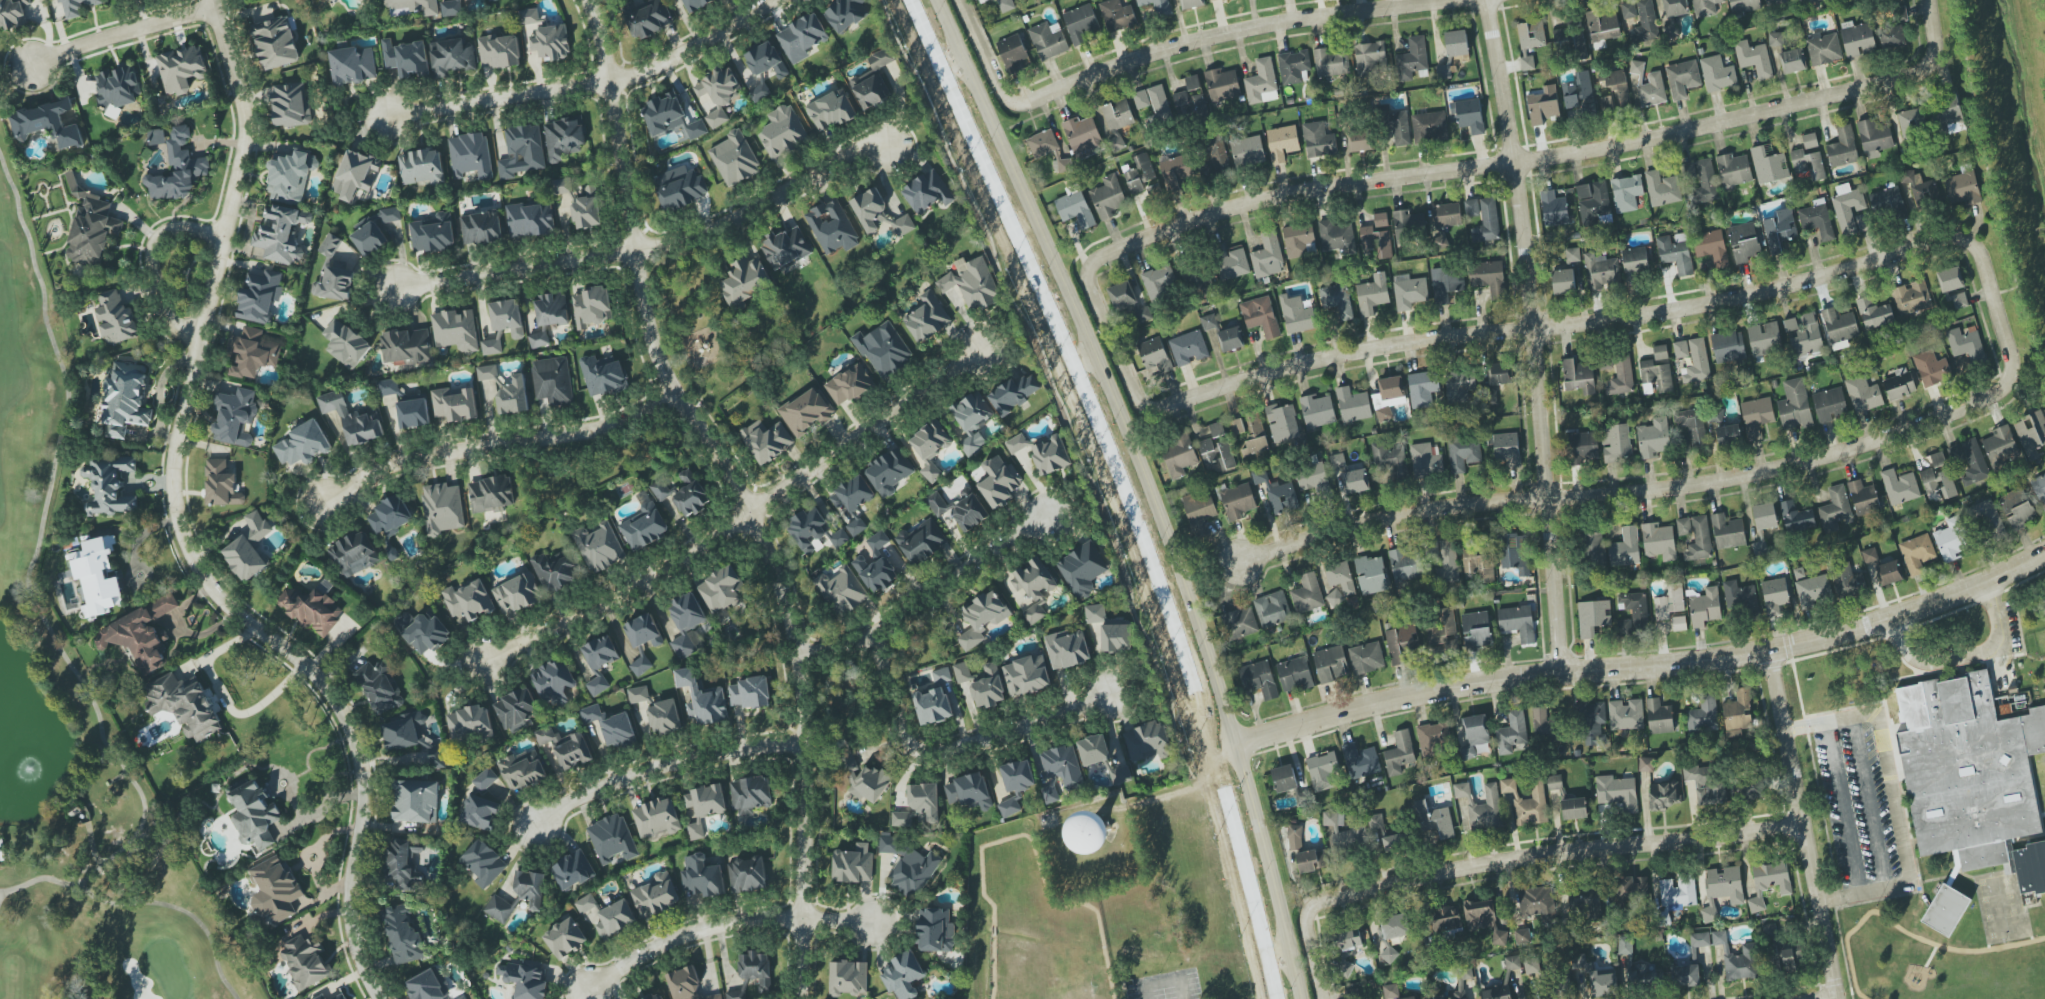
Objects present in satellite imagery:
building: (328, 0)
building: (492, 0)
building: (1211, 0)
building: (1807, 0)
building: (1774, 1)
building: (696, 4)
building: (1191, 4)
building: (414, 5)
building: (1006, 5)
building: (1157, 6)
building: (1744, 6)
building: (1675, 7)
building: (1705, 7)
building: (74, 8)
building: (451, 8)
building: (1628, 10)
building: (845, 14)
road: (964, 15)
building: (1117, 15)
building: (529, 16)
building: (649, 19)
building: (1645, 22)
building: (1080, 24)
building: (1603, 25)
road: (1959, 30)
road: (116, 31)
building: (1531, 34)
building: (1560, 35)
building: (1892, 37)
building: (801, 38)
building: (1776, 39)
building: (1048, 40)
building: (1858, 40)
building: (276, 42)
building: (551, 43)
building: (1456, 43)
road: (1183, 44)
building: (1579, 45)
building: (1824, 49)
building: (499, 51)
building: (1013, 53)
building: (451, 57)
building: (1369, 57)
building: (406, 58)
building: (1754, 58)
building: (1411, 59)
building: (766, 60)
building: (1793, 61)
building: (1330, 62)
building: (1527, 62)
building: (353, 65)
building: (1293, 66)
building: (1636, 67)
building: (181, 69)
building: (1445, 71)
building: (1717, 74)
building: (1683, 78)
building: (873, 81)
building: (1192, 82)
building: (1261, 83)
road: (589, 84)
building: (1222, 85)
building: (1617, 86)
building: (117, 87)
building: (1652, 90)
building: (759, 92)
building: (718, 93)
building: (1579, 94)
building: (1141, 99)
building: (1190, 103)
building: (290, 104)
building: (1606, 104)
building: (1543, 105)
building: (830, 111)
building: (664, 114)
building: (1468, 115)
building: (1117, 120)
building: (47, 123)
building: (1429, 126)
building: (1399, 128)
building: (696, 130)
building: (783, 132)
building: (156, 137)
building: (1083, 137)
building: (1874, 137)
building: (563, 138)
road: (1982, 138)
building: (1318, 140)
building: (1360, 140)
building: (1042, 143)
building: (1282, 143)
building: (1810, 143)
building: (1843, 148)
building: (522, 151)
building: (1247, 151)
building: (1218, 154)
building: (470, 155)
building: (735, 159)
building: (1808, 164)
road: (1503, 165)
building: (1768, 165)
building: (422, 166)
building: (178, 169)
building: (1733, 170)
building: (1176, 172)
building: (355, 174)
building: (291, 177)
building: (1142, 177)
building: (1705, 182)
building: (562, 186)
building: (679, 188)
building: (1963, 188)
building: (1662, 189)
building: (1925, 189)
building: (927, 192)
building: (1626, 193)
building: (1108, 196)
building: (1593, 202)
building: (1887, 203)
building: (1471, 208)
building: (587, 209)
building: (1075, 209)
building: (1553, 209)
building: (870, 210)
building: (1850, 210)
building: (1446, 215)
building: (531, 219)
building: (1817, 219)
building: (1380, 220)
building: (1487, 222)
building: (1409, 224)
building: (903, 225)
building: (90, 227)
building: (832, 227)
building: (481, 228)
building: (1779, 229)
building: (374, 232)
building: (281, 233)
building: (433, 233)
building: (1336, 237)
building: (1299, 240)
building: (1376, 241)
building: (1744, 242)
road: (649, 246)
building: (786, 247)
building: (1711, 247)
building: (1676, 253)
building: (1572, 255)
building: (1267, 257)
road: (153, 260)
building: (1232, 263)
building: (1635, 263)
building: (1601, 271)
building: (334, 274)
building: (1489, 277)
building: (1950, 279)
building: (745, 280)
building: (1563, 281)
building: (1160, 282)
building: (1203, 282)
building: (972, 283)
building: (1446, 283)
road: (2004, 290)
building: (1409, 291)
road: (2018, 293)
building: (1372, 294)
building: (1122, 295)
building: (259, 296)
building: (1911, 298)
building: (1956, 299)
building: (1337, 300)
building: (592, 307)
building: (551, 309)
building: (1874, 314)
building: (1142, 315)
building: (1296, 315)
building: (1260, 316)
building: (507, 317)
building: (116, 318)
building: (926, 318)
building: (1209, 322)
building: (1790, 324)
road: (1554, 326)
building: (1839, 328)
building: (455, 330)
road: (1532, 334)
building: (1806, 336)
building: (1765, 338)
building: (1231, 339)
building: (539, 340)
building: (346, 343)
building: (407, 346)
building: (1728, 346)
building: (491, 347)
building: (1188, 348)
building: (1966, 348)
building: (1681, 349)
building: (884, 350)
building: (252, 353)
building: (1154, 356)
building: (1696, 363)
building: (1931, 368)
building: (1656, 371)
building: (487, 372)
building: (1618, 374)
building: (602, 375)
building: (1578, 376)
building: (1496, 379)
building: (552, 380)
building: (1899, 384)
building: (849, 385)
building: (388, 387)
building: (1457, 387)
building: (1422, 388)
building: (1015, 393)
building: (1863, 394)
building: (513, 396)
building: (1388, 396)
building: (125, 401)
building: (455, 403)
building: (1830, 404)
building: (1353, 405)
building: (1794, 405)
building: (806, 411)
building: (1317, 411)
building: (413, 413)
building: (1715, 415)
building: (235, 417)
building: (1756, 417)
building: (352, 419)
building: (972, 421)
building: (1282, 423)
building: (1237, 426)
building: (1692, 426)
building: (1217, 429)
building: (1254, 434)
building: (2031, 434)
building: (1728, 435)
building: (1653, 438)
building: (766, 440)
building: (1616, 442)
building: (303, 444)
building: (1015, 444)
building: (2001, 446)
building: (931, 447)
building: (1584, 447)
road: (497, 448)
building: (1507, 449)
building: (1217, 453)
building: (1463, 454)
building: (1051, 455)
building: (1178, 456)
building: (1936, 459)
building: (1425, 460)
building: (1337, 461)
building: (1390, 461)
building: (1970, 461)
building: (890, 471)
building: (1314, 480)
building: (1356, 481)
building: (999, 482)
building: (221, 484)
building: (110, 485)
road: (1669, 486)
building: (1900, 487)
road: (742, 488)
road: (1151, 488)
building: (660, 490)
building: (2039, 490)
building: (1277, 492)
building: (855, 493)
building: (490, 494)
building: (690, 495)
building: (1863, 498)
building: (1236, 500)
building: (2017, 507)
building: (442, 508)
building: (1835, 509)
building: (961, 510)
building: (1199, 512)
building: (1765, 516)
building: (390, 517)
building: (1796, 517)
road: (738, 518)
building: (1989, 521)
building: (856, 526)
building: (644, 527)
building: (1684, 527)
road: (182, 529)
building: (808, 529)
building: (1728, 532)
building: (839, 538)
building: (1699, 540)
building: (1950, 540)
building: (878, 541)
building: (1658, 541)
building: (921, 542)
building: (599, 547)
building: (249, 548)
building: (1594, 548)
building: (1625, 548)
building: (1515, 553)
building: (1917, 553)
building: (354, 554)
building: (1869, 555)
building: (1447, 562)
building: (1480, 564)
building: (1406, 565)
building: (1082, 568)
building: (555, 571)
building: (875, 573)
building: (1798, 573)
building: (1889, 573)
building: (1371, 574)
building: (97, 576)
building: (1341, 577)
building: (1849, 582)
building: (720, 589)
building: (841, 590)
building: (1814, 590)
building: (1307, 593)
building: (517, 594)
building: (1774, 595)
road: (924, 598)
building: (1334, 598)
building: (1740, 599)
building: (468, 600)
building: (1669, 602)
building: (1704, 607)
building: (1635, 608)
building: (1272, 609)
building: (313, 610)
building: (1095, 614)
building: (981, 617)
building: (1593, 617)
building: (1518, 622)
building: (1240, 623)
building: (1679, 623)
building: (687, 624)
building: (1624, 628)
building: (1442, 629)
building: (1477, 630)
building: (424, 632)
building: (140, 634)
building: (1116, 638)
building: (643, 639)
building: (1401, 643)
building: (1067, 649)
road: (1962, 655)
building: (1366, 657)
building: (599, 661)
building: (1330, 664)
road: (1647, 664)
building: (962, 672)
building: (1294, 674)
building: (1026, 676)
building: (1258, 679)
building: (554, 682)
building: (380, 687)
building: (988, 687)
building: (750, 693)
building: (638, 694)
building: (702, 699)
road: (222, 700)
building: (185, 705)
building: (932, 706)
building: (516, 710)
building: (1738, 713)
building: (1626, 714)
building: (1703, 715)
building: (1659, 716)
building: (664, 717)
building: (1593, 723)
building: (470, 724)
building: (1544, 725)
building: (611, 727)
building: (1512, 732)
building: (1475, 736)
building: (414, 738)
building: (1433, 738)
building: (1148, 741)
road: (954, 747)
building: (565, 748)
park: (114, 749)
building: (1093, 750)
building: (1399, 753)
building: (1360, 761)
building: (1646, 764)
road: (659, 767)
building: (522, 770)
building: (1322, 770)
building: (1060, 771)
building: (1018, 776)
building: (1120, 776)
building: (863, 778)
building: (1284, 778)
building: (485, 779)
building: (1555, 784)
building: (1706, 785)
road: (1195, 787)
building: (1751, 788)
building: (1972, 788)
building: (969, 791)
building: (1617, 792)
building: (750, 795)
building: (1664, 795)
road: (1892, 798)
building: (416, 801)
building: (1526, 802)
parking lot: (1856, 804)
road: (1869, 804)
building: (919, 805)
building: (704, 806)
building: (1009, 806)
building: (1481, 806)
building: (1574, 809)
road: (1842, 809)
building: (481, 812)
building: (254, 814)
building: (657, 818)
building: (1434, 819)
road: (1804, 824)
building: (1376, 828)
building: (1343, 832)
building: (1093, 833)
building: (1295, 837)
building: (612, 839)
building: (1394, 843)
building: (2010, 856)
road: (1507, 858)
building: (1312, 860)
building: (484, 863)
building: (853, 864)
building: (403, 865)
building: (909, 865)
building: (572, 871)
building: (748, 875)
building: (702, 877)
building: (1769, 882)
building: (530, 887)
building: (1630, 888)
building: (275, 890)
building: (1722, 890)
building: (656, 896)
building: (1675, 896)
building: (1585, 901)
building: (1536, 903)
building: (586, 904)
building: (499, 909)
building: (1445, 918)
building: (615, 919)
building: (1484, 919)
road: (720, 924)
building: (1395, 926)
building: (935, 930)
road: (1904, 932)
building: (403, 934)
building: (1523, 936)
building: (565, 938)
building: (1700, 939)
building: (1347, 940)
building: (1625, 945)
building: (1789, 956)
building: (1736, 958)
building: (305, 962)
building: (1512, 962)
building: (1532, 967)
building: (753, 974)
building: (903, 975)
building: (1685, 975)
building: (1644, 976)
building: (848, 978)
building: (524, 979)
building: (1603, 984)
building: (687, 985)
building: (426, 986)
road: (1165, 989)
building: (1393, 992)
building: (1496, 993)
building: (655, 996)
building: (320, 997)
building: (339, 997)
building: (462, 997)
road: (1835, 998)

